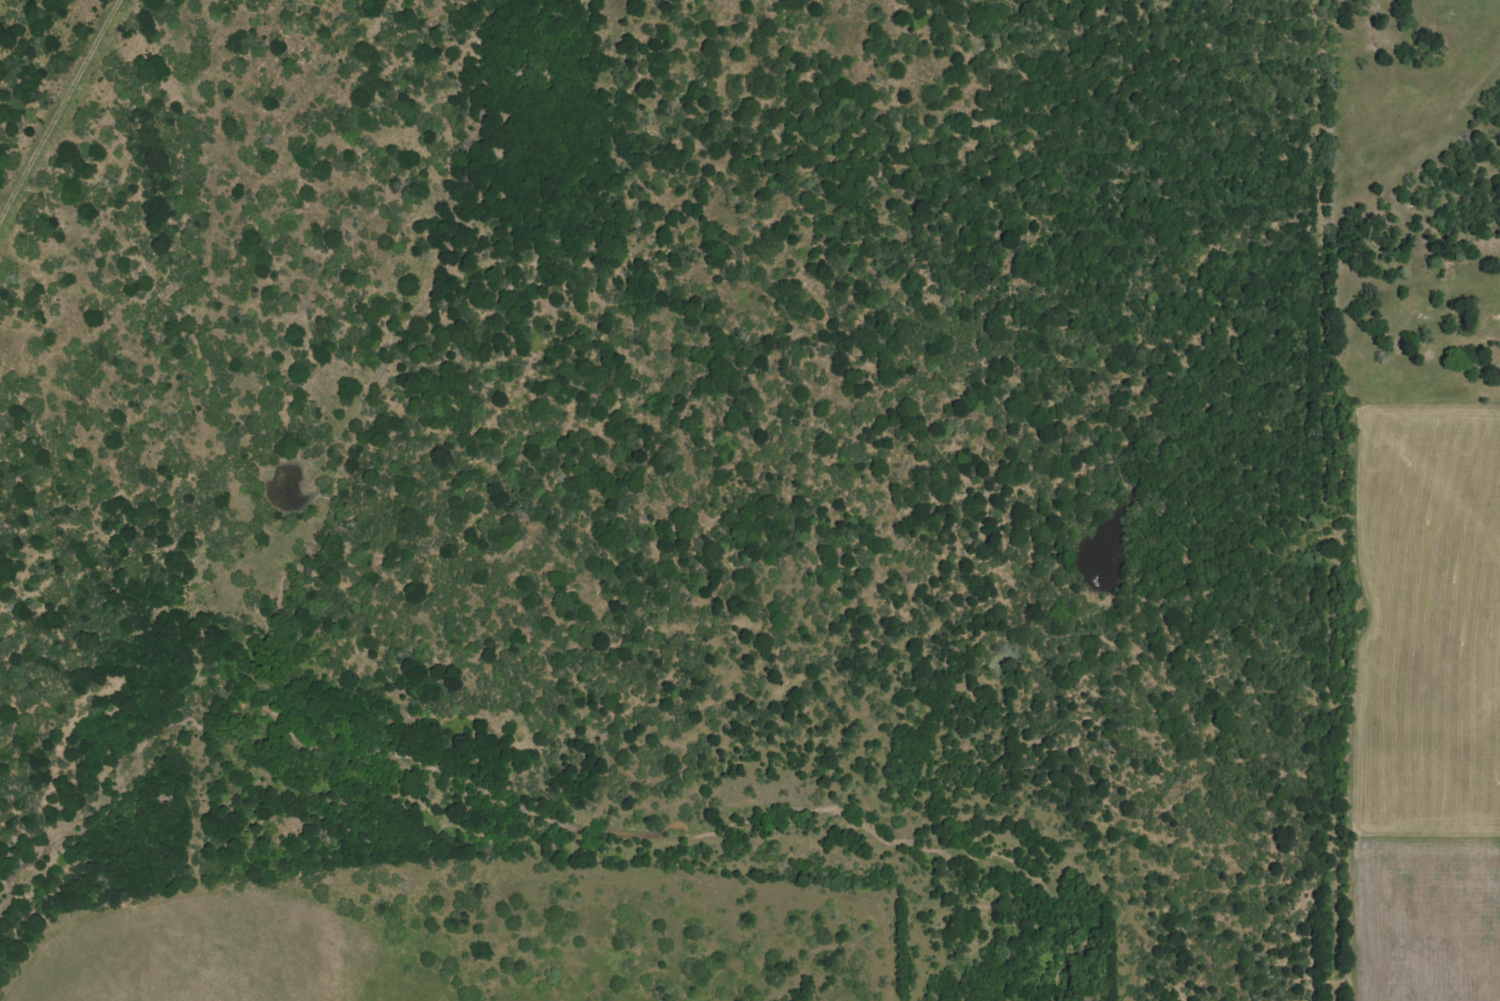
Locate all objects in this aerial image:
road: (56, 106)

